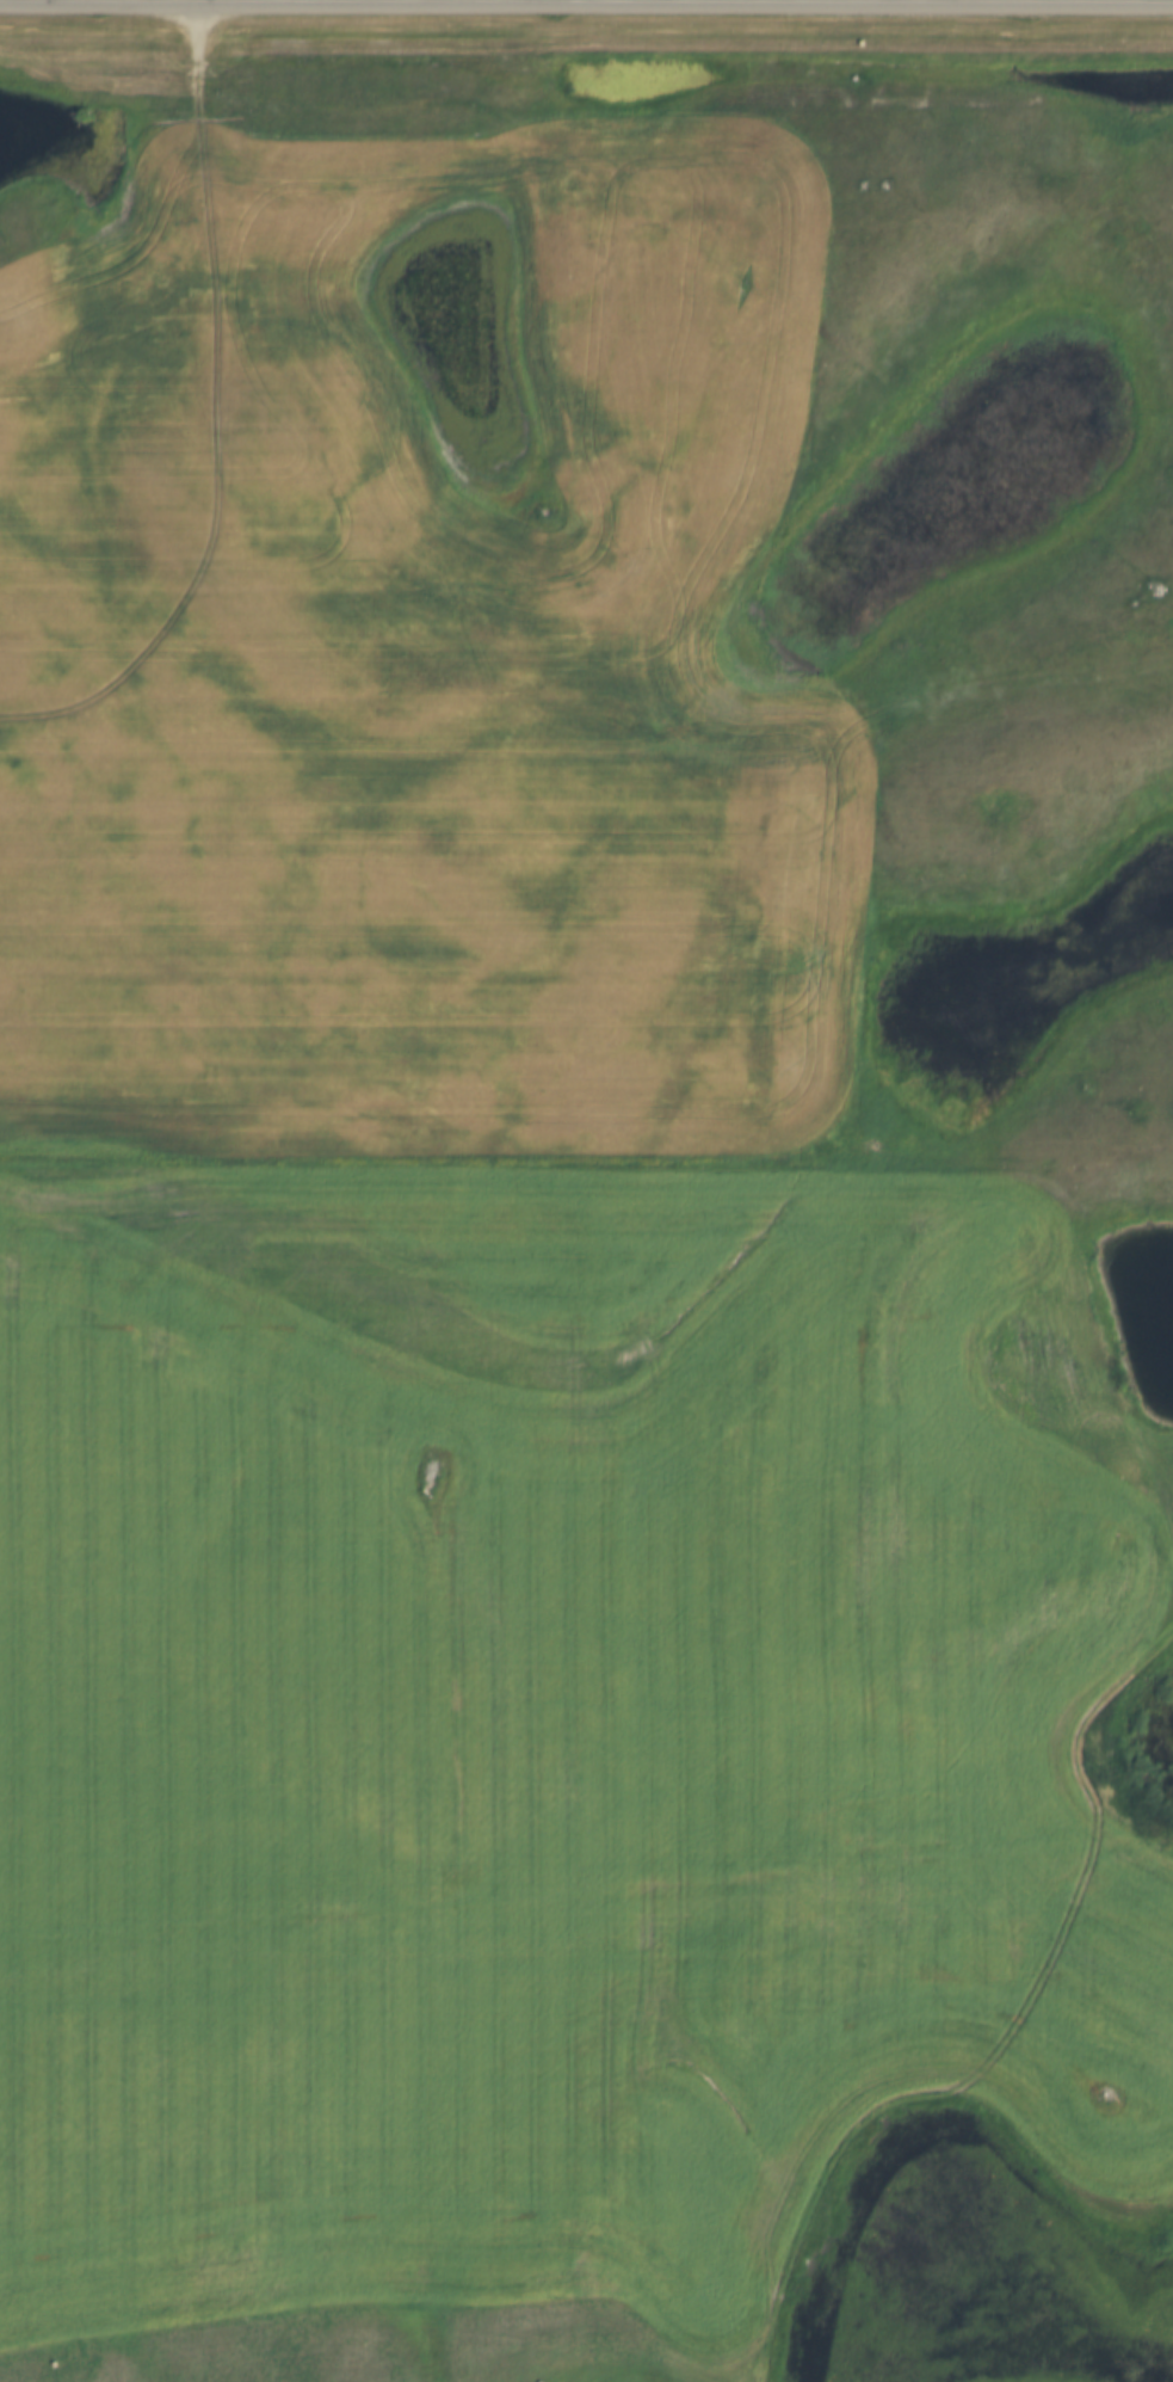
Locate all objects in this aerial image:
road: (224, 421)

